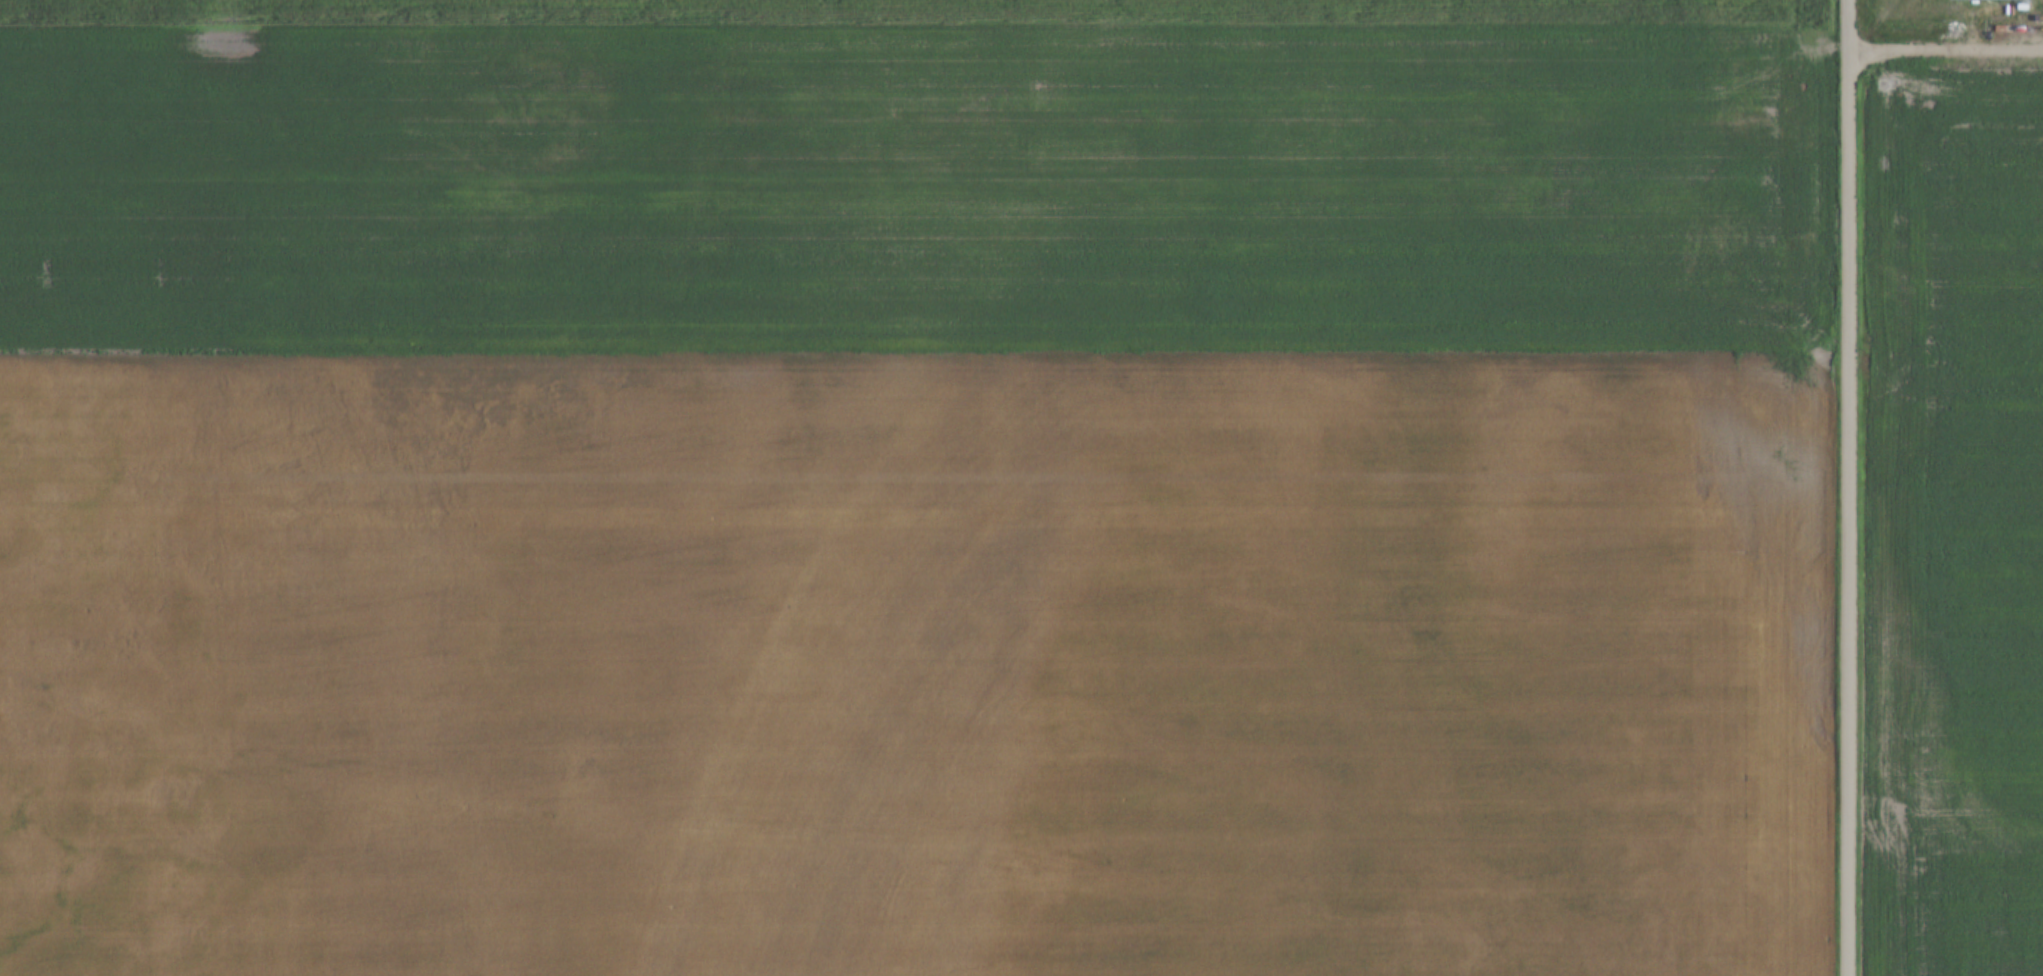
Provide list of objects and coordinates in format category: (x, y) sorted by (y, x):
road: (1848, 25)
road: (1945, 51)
road: (1848, 513)

